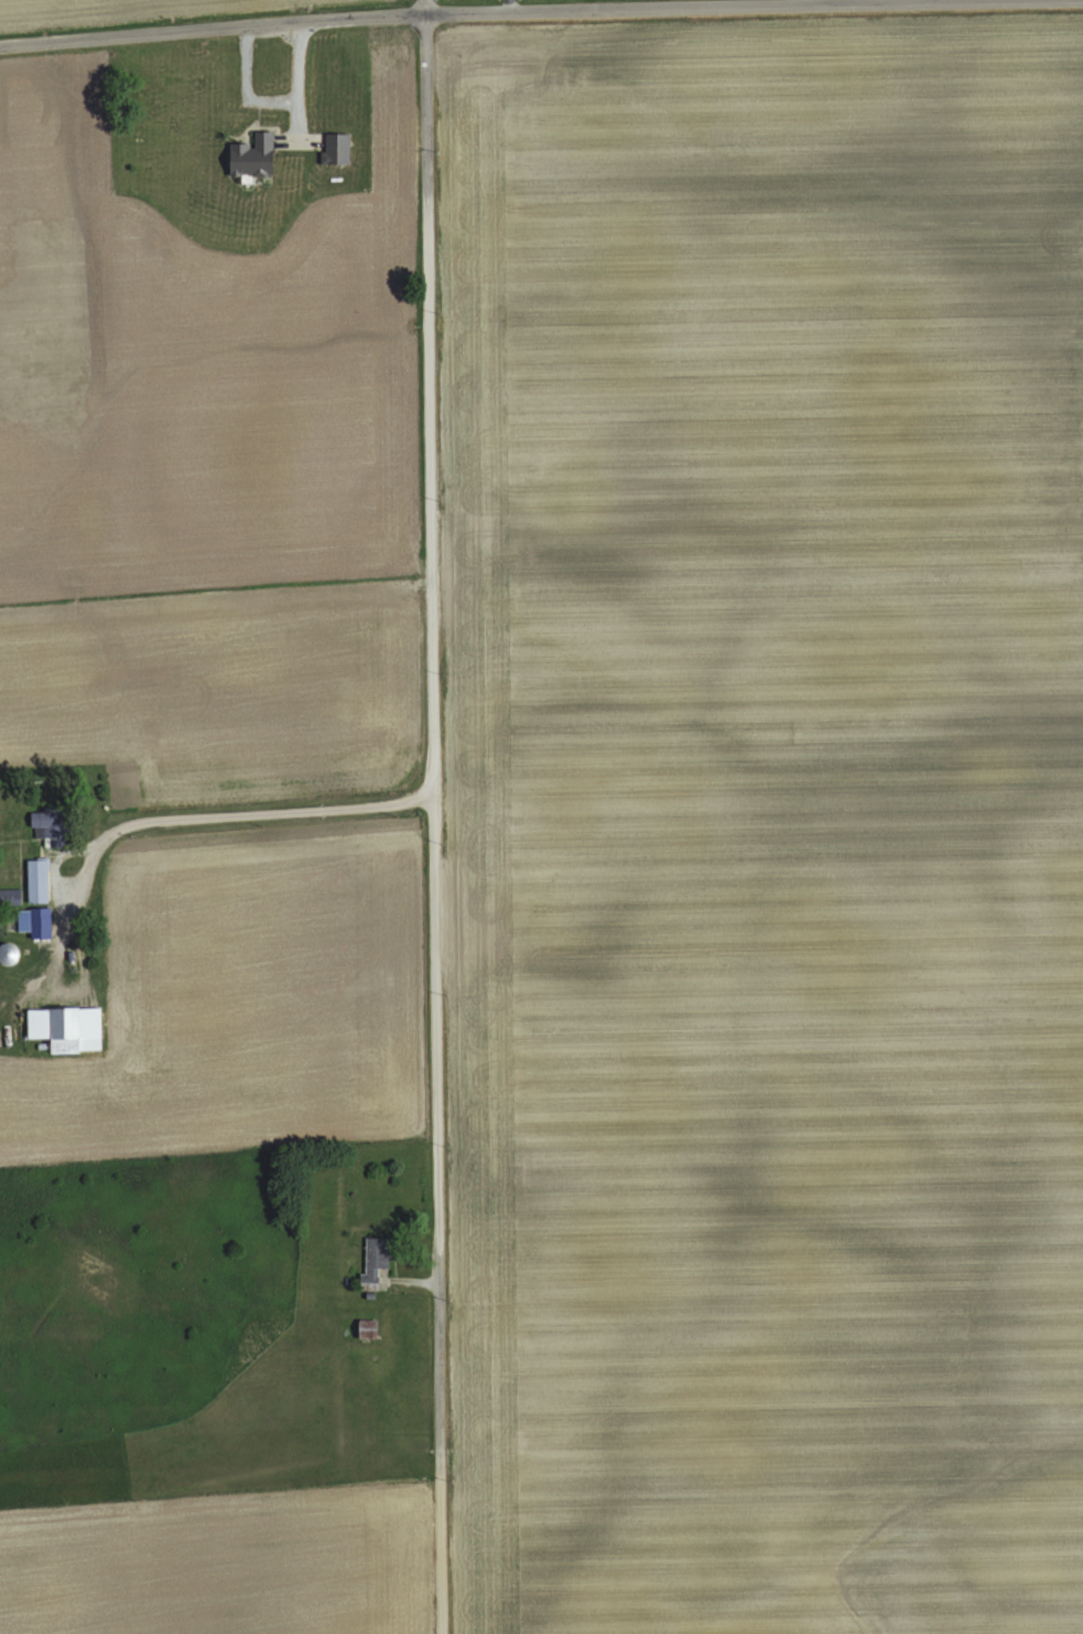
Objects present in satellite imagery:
road: (505, 10)
road: (426, 88)
building: (336, 149)
building: (252, 158)
road: (434, 704)
road: (209, 815)
building: (52, 822)
road: (75, 851)
building: (40, 879)
building: (12, 895)
road: (69, 895)
road: (66, 902)
building: (40, 920)
silo: (12, 952)
building: (67, 1027)
building: (375, 1257)
building: (368, 1329)
road: (442, 1335)
road: (443, 1537)

